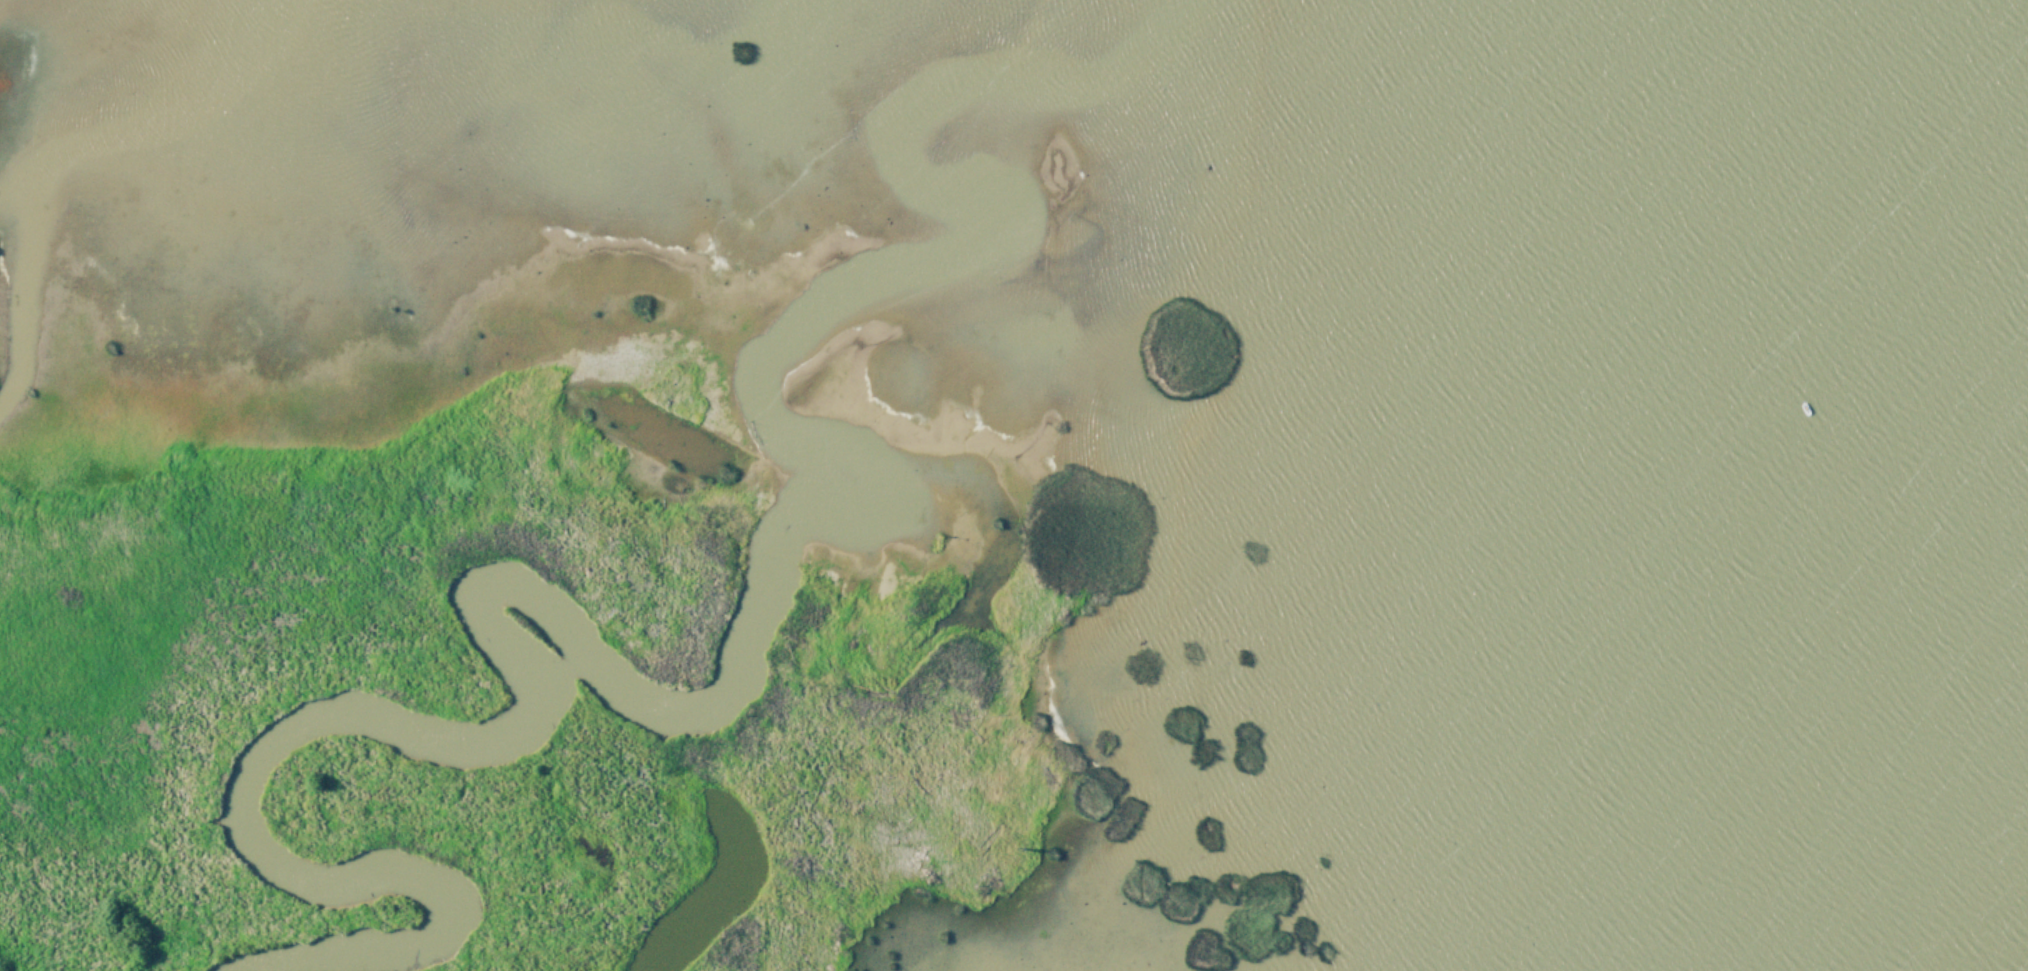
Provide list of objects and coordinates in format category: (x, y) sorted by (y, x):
river: (1983, 862)

